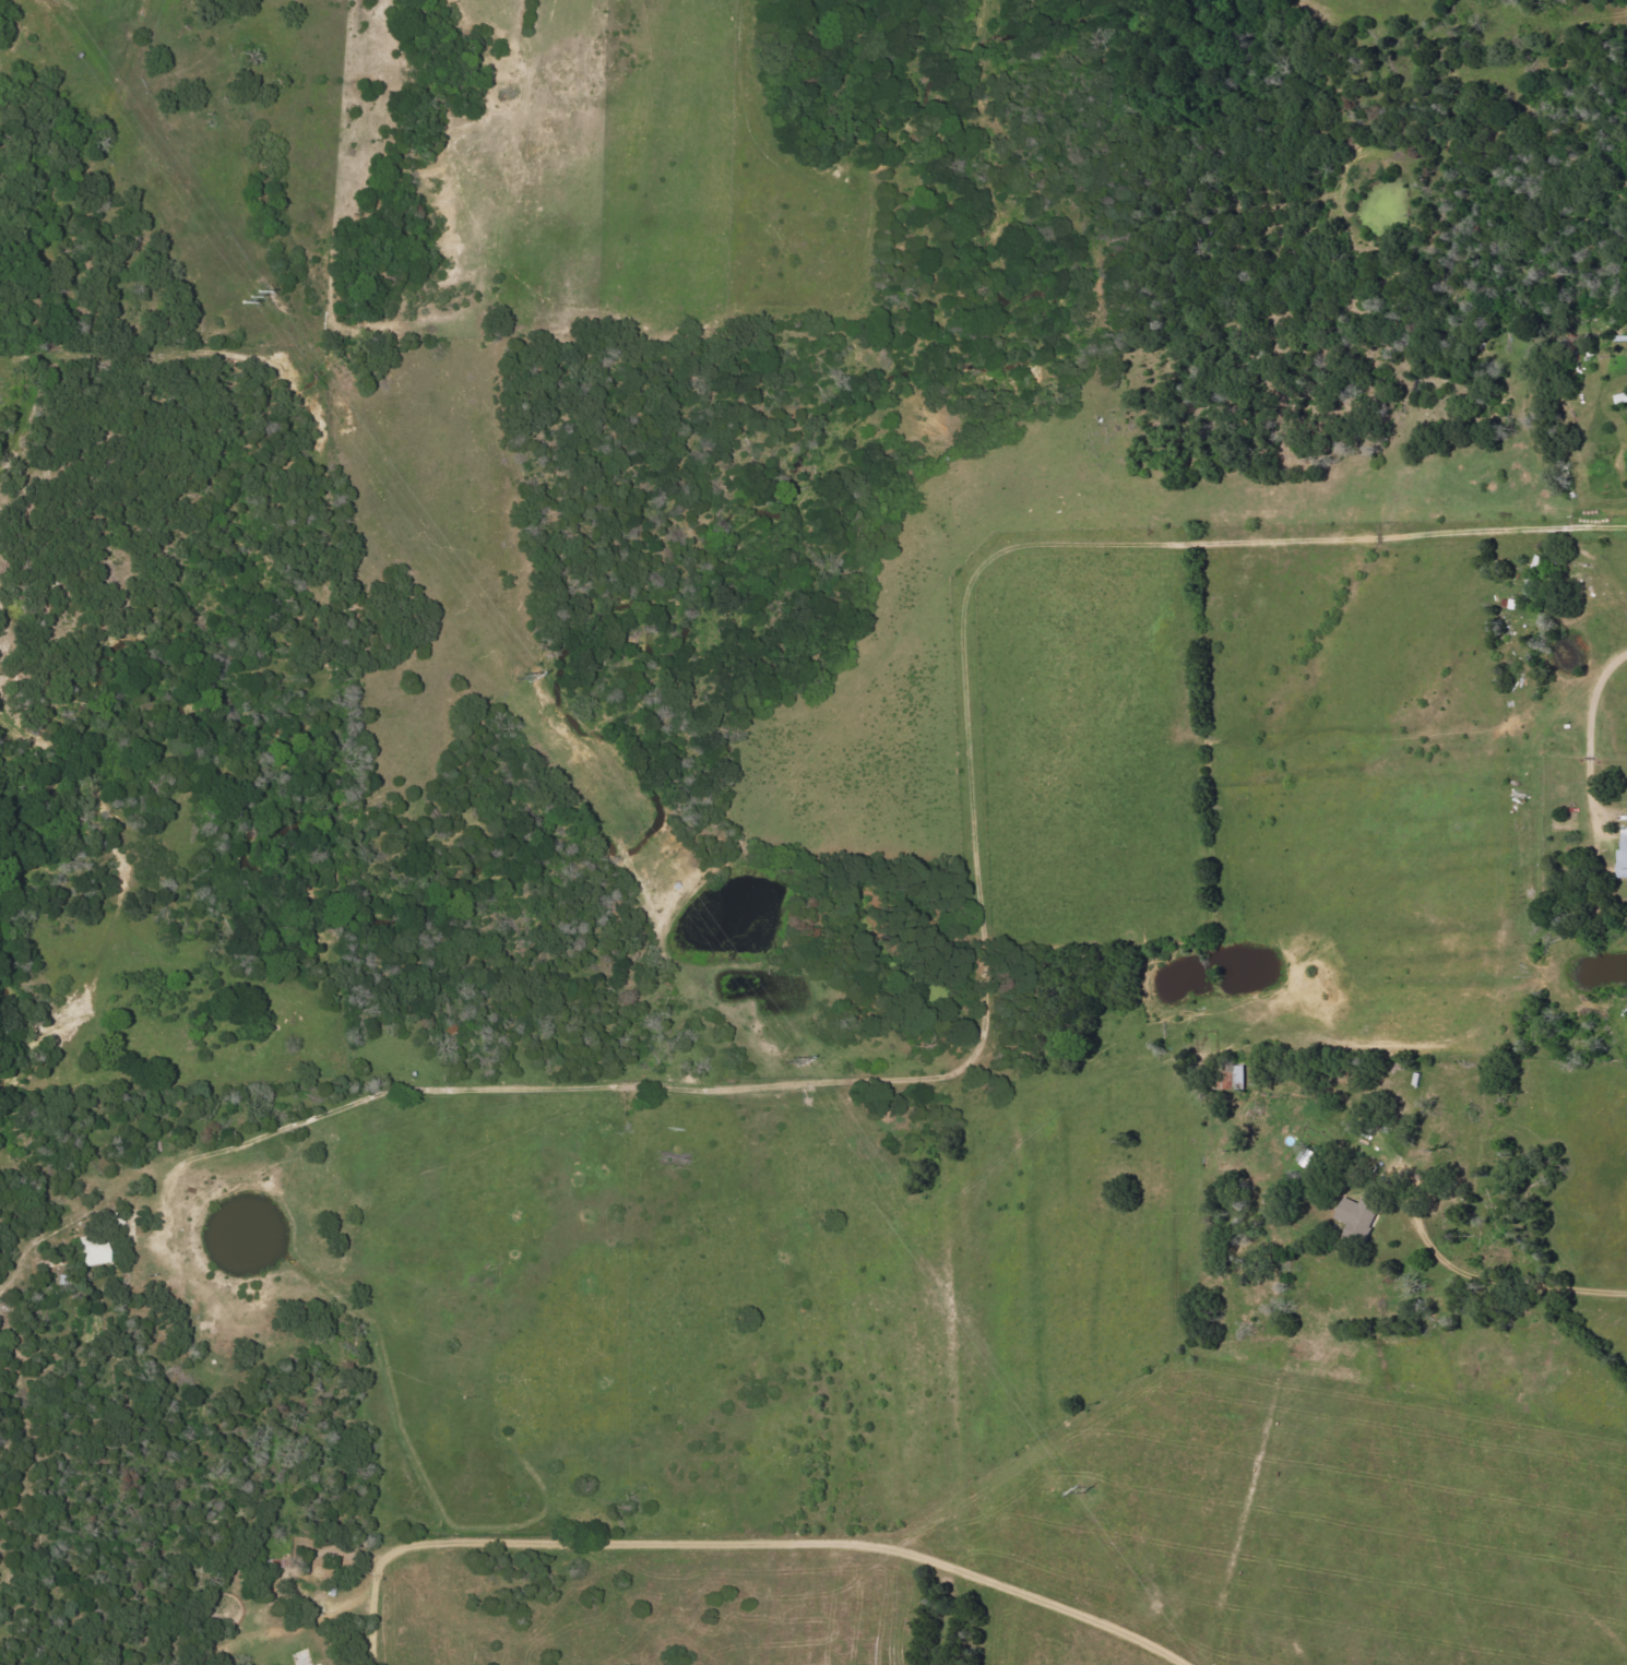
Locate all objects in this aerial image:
power tower: (254, 295)
building: (1534, 575)
power tower: (522, 678)
road: (1591, 742)
building: (1624, 852)
road: (977, 927)
power tower: (793, 1062)
building: (1236, 1078)
building: (1361, 1211)
building: (93, 1249)
road: (1522, 1285)
power tower: (1092, 1491)
road: (744, 1549)

